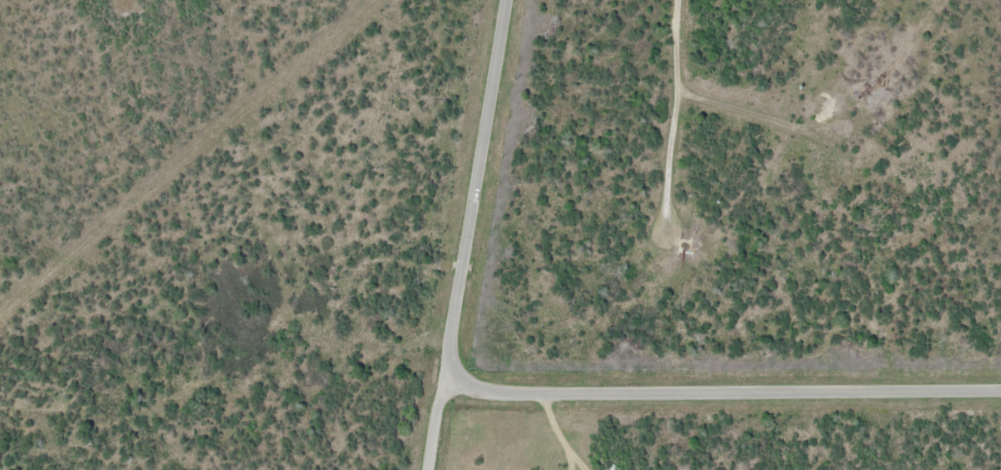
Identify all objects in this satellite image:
road: (650, 114)
road: (460, 234)
road: (718, 387)

